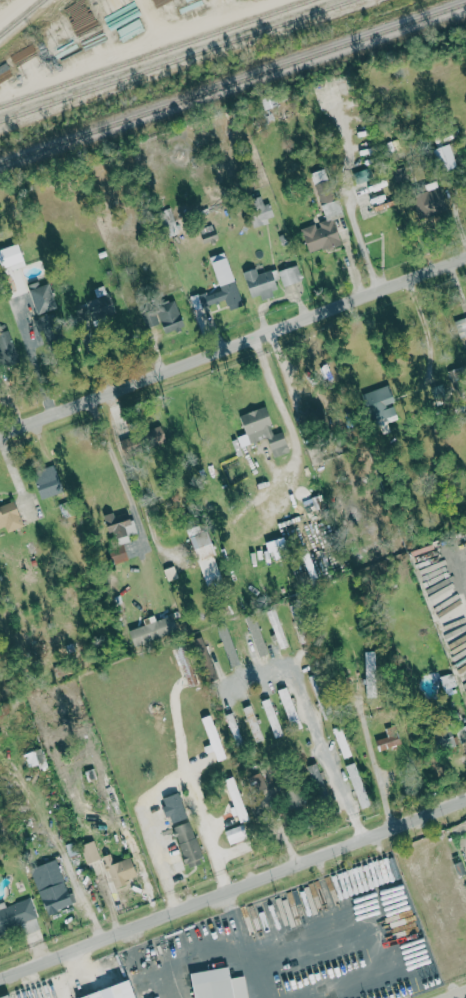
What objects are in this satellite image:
building: (117, 11)
railway: (21, 17)
railway: (155, 53)
railway: (173, 59)
railway: (233, 81)
building: (446, 158)
building: (321, 181)
building: (430, 207)
building: (260, 210)
building: (321, 235)
road: (360, 243)
building: (11, 255)
building: (289, 275)
building: (260, 282)
building: (221, 285)
building: (42, 296)
building: (99, 307)
building: (164, 317)
building: (461, 327)
road: (425, 328)
building: (7, 350)
road: (233, 350)
building: (386, 401)
building: (314, 415)
building: (264, 430)
building: (157, 435)
building: (129, 444)
road: (115, 461)
building: (48, 482)
building: (10, 516)
building: (119, 526)
building: (119, 553)
building: (206, 554)
building: (277, 628)
building: (153, 630)
building: (256, 635)
building: (371, 670)
building: (315, 680)
building: (448, 681)
building: (288, 705)
building: (325, 708)
building: (271, 718)
building: (253, 723)
road: (314, 726)
building: (214, 737)
building: (389, 738)
building: (447, 739)
building: (342, 742)
road: (373, 759)
building: (260, 785)
building: (358, 785)
building: (237, 799)
building: (174, 808)
building: (236, 834)
building: (459, 843)
building: (188, 844)
building: (90, 852)
building: (120, 871)
building: (51, 886)
road: (232, 888)
building: (18, 917)
road: (211, 945)
building: (219, 984)
building: (103, 993)
building: (6, 996)
road: (462, 996)

